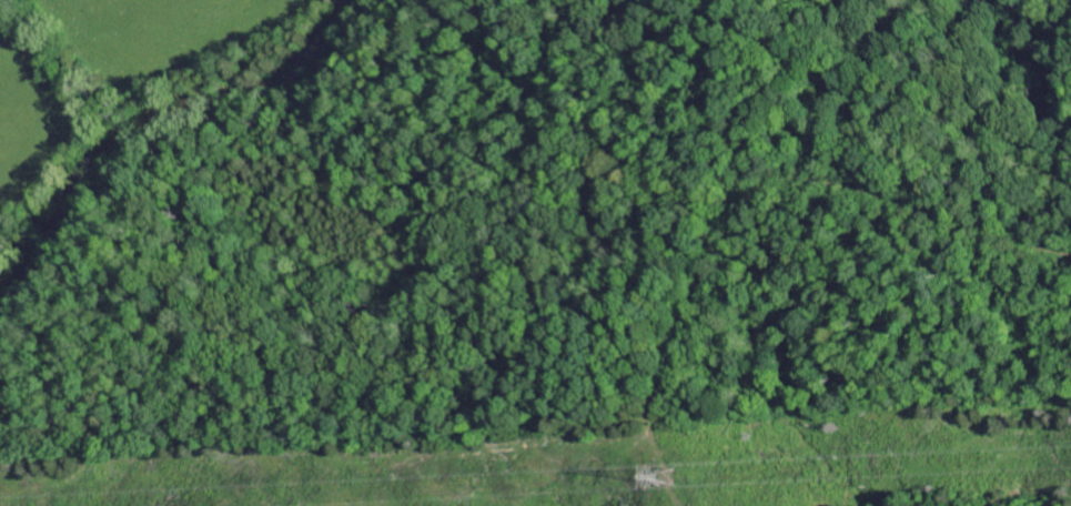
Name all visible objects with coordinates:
power tower: (664, 477)

